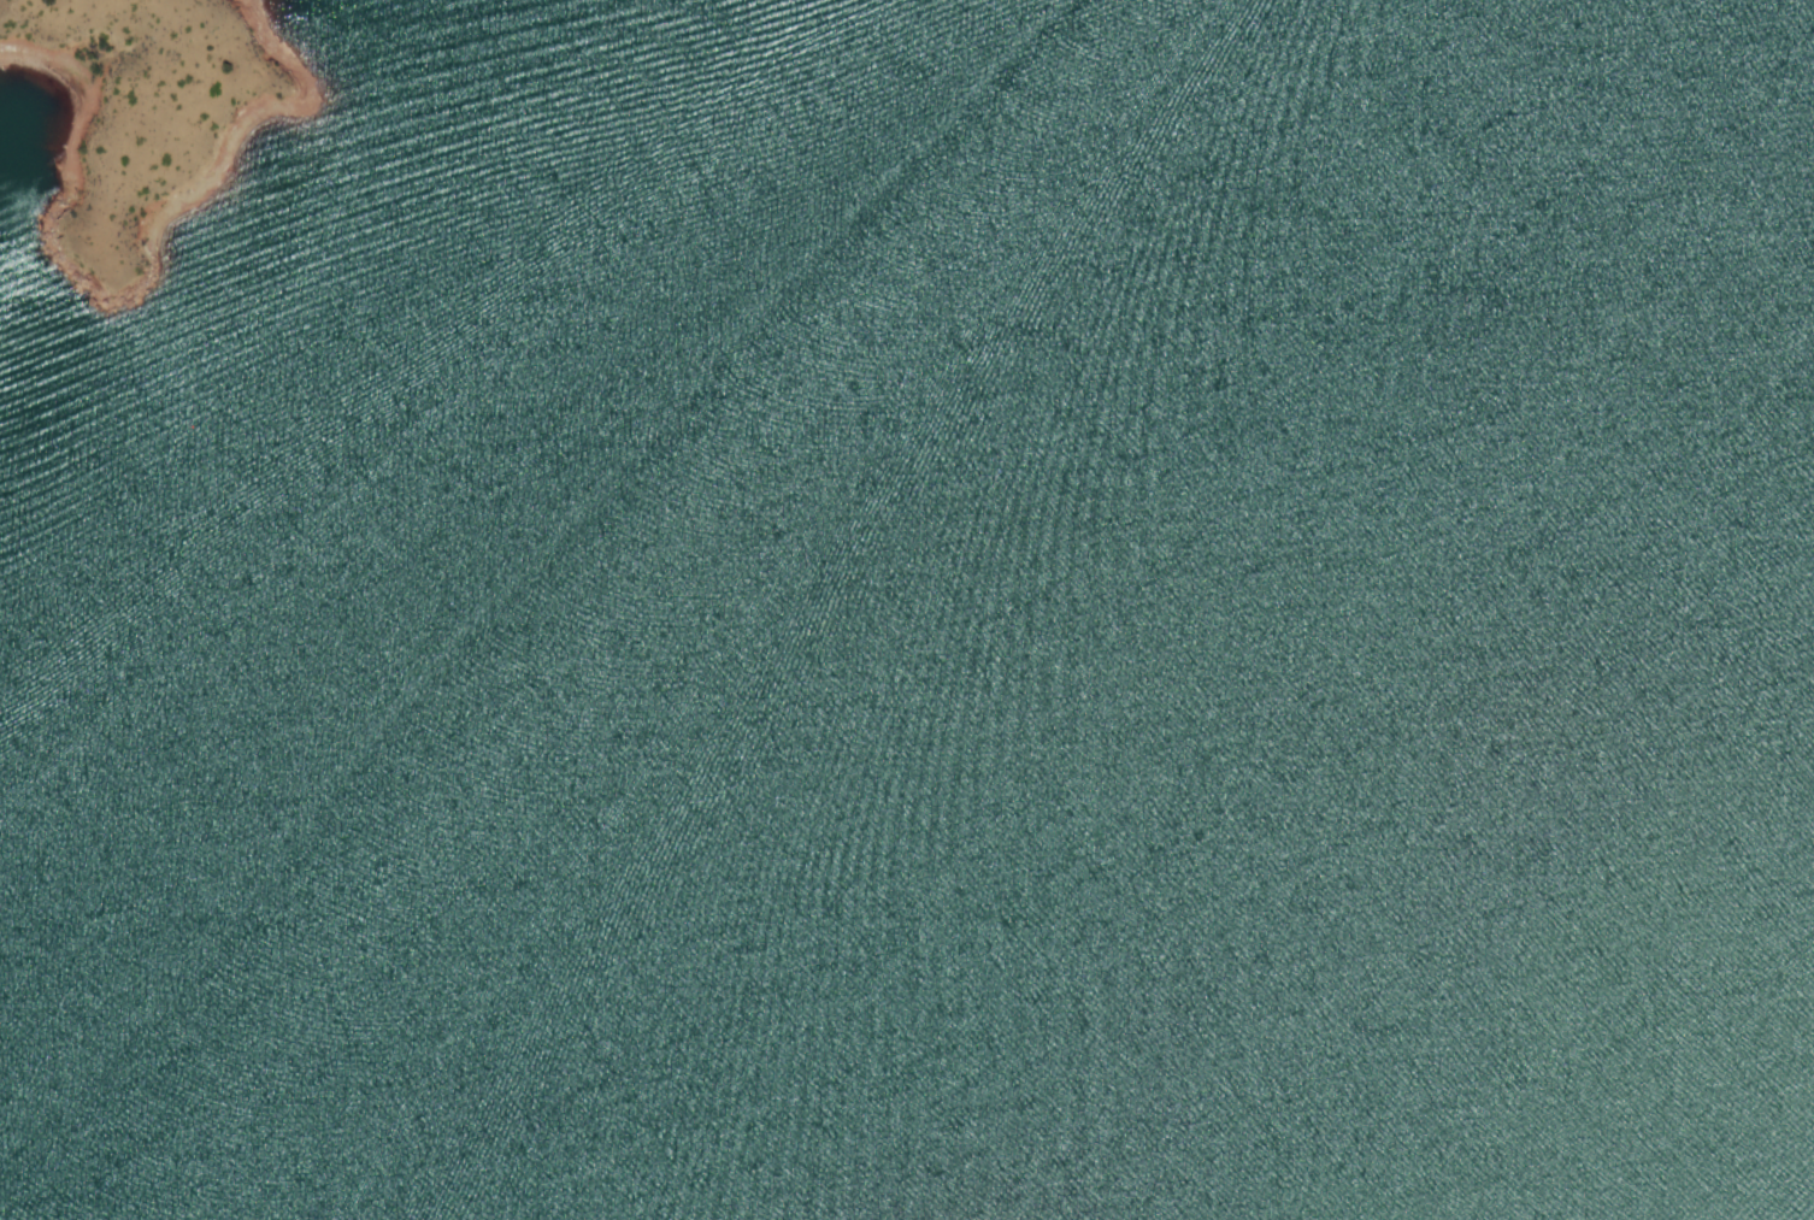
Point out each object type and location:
river: (1115, 654)

